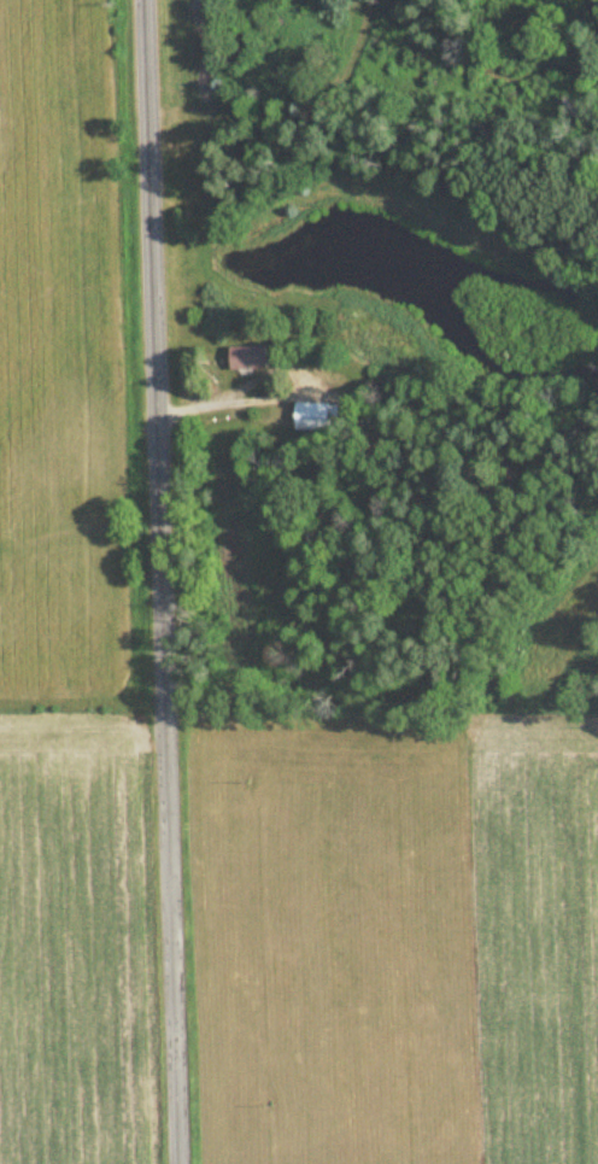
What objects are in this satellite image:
building: (246, 357)
building: (315, 415)
road: (165, 581)

